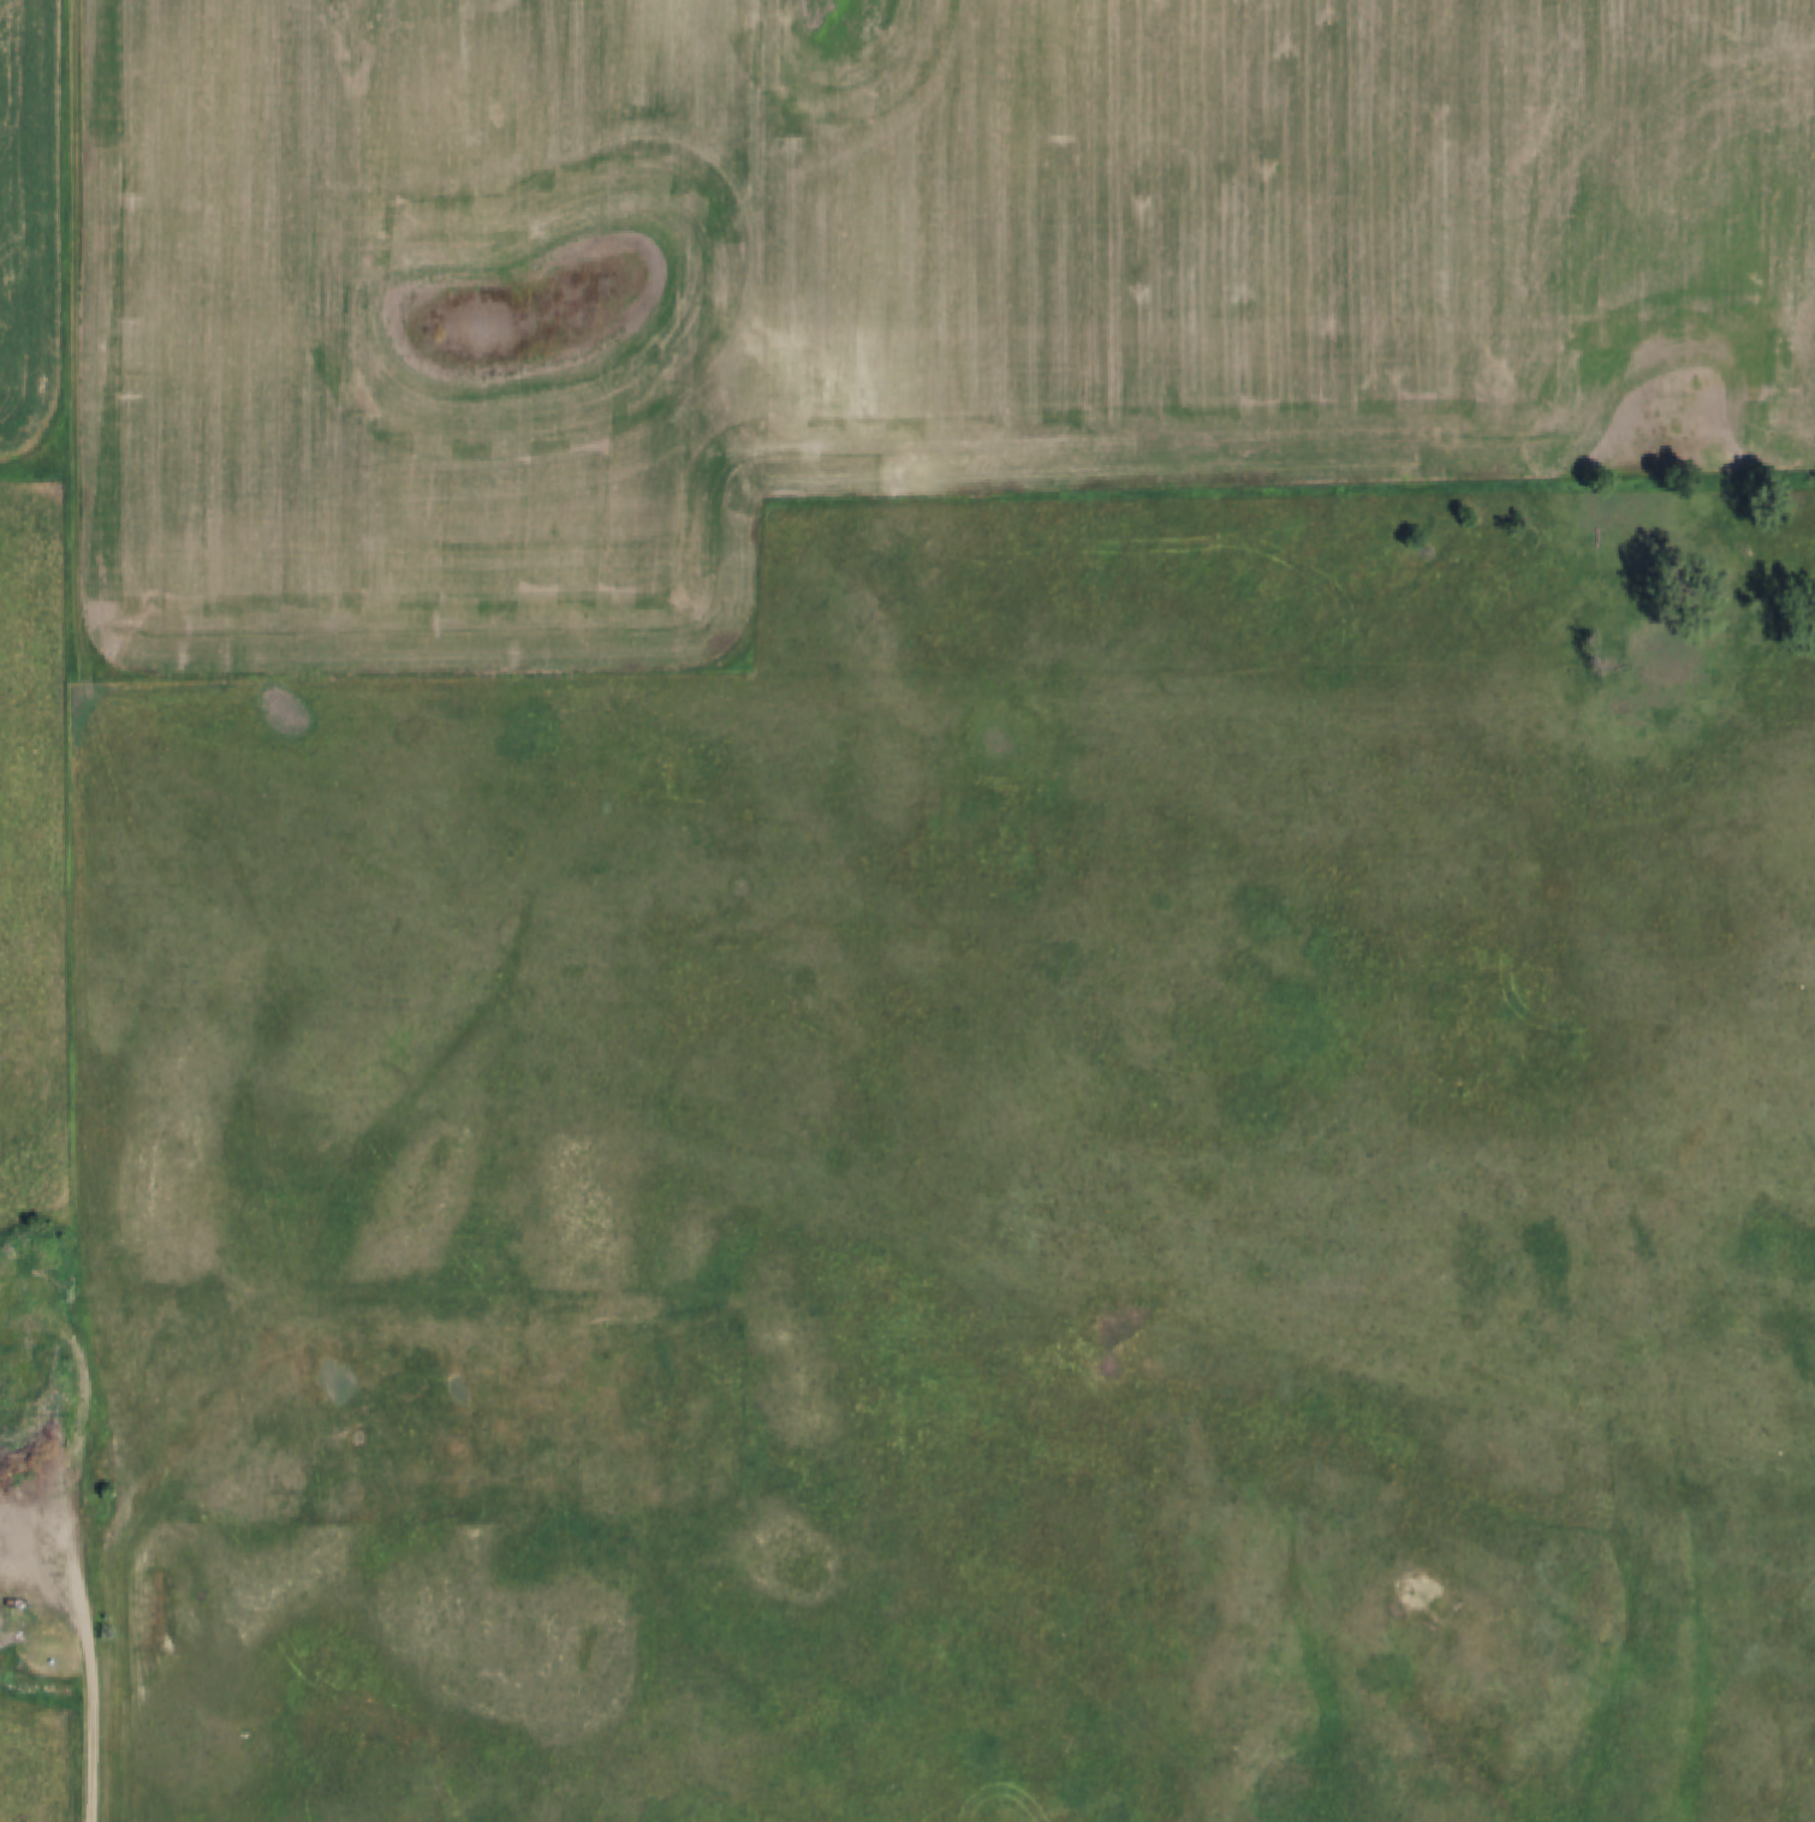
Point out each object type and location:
road: (77, 678)
road: (84, 1589)

